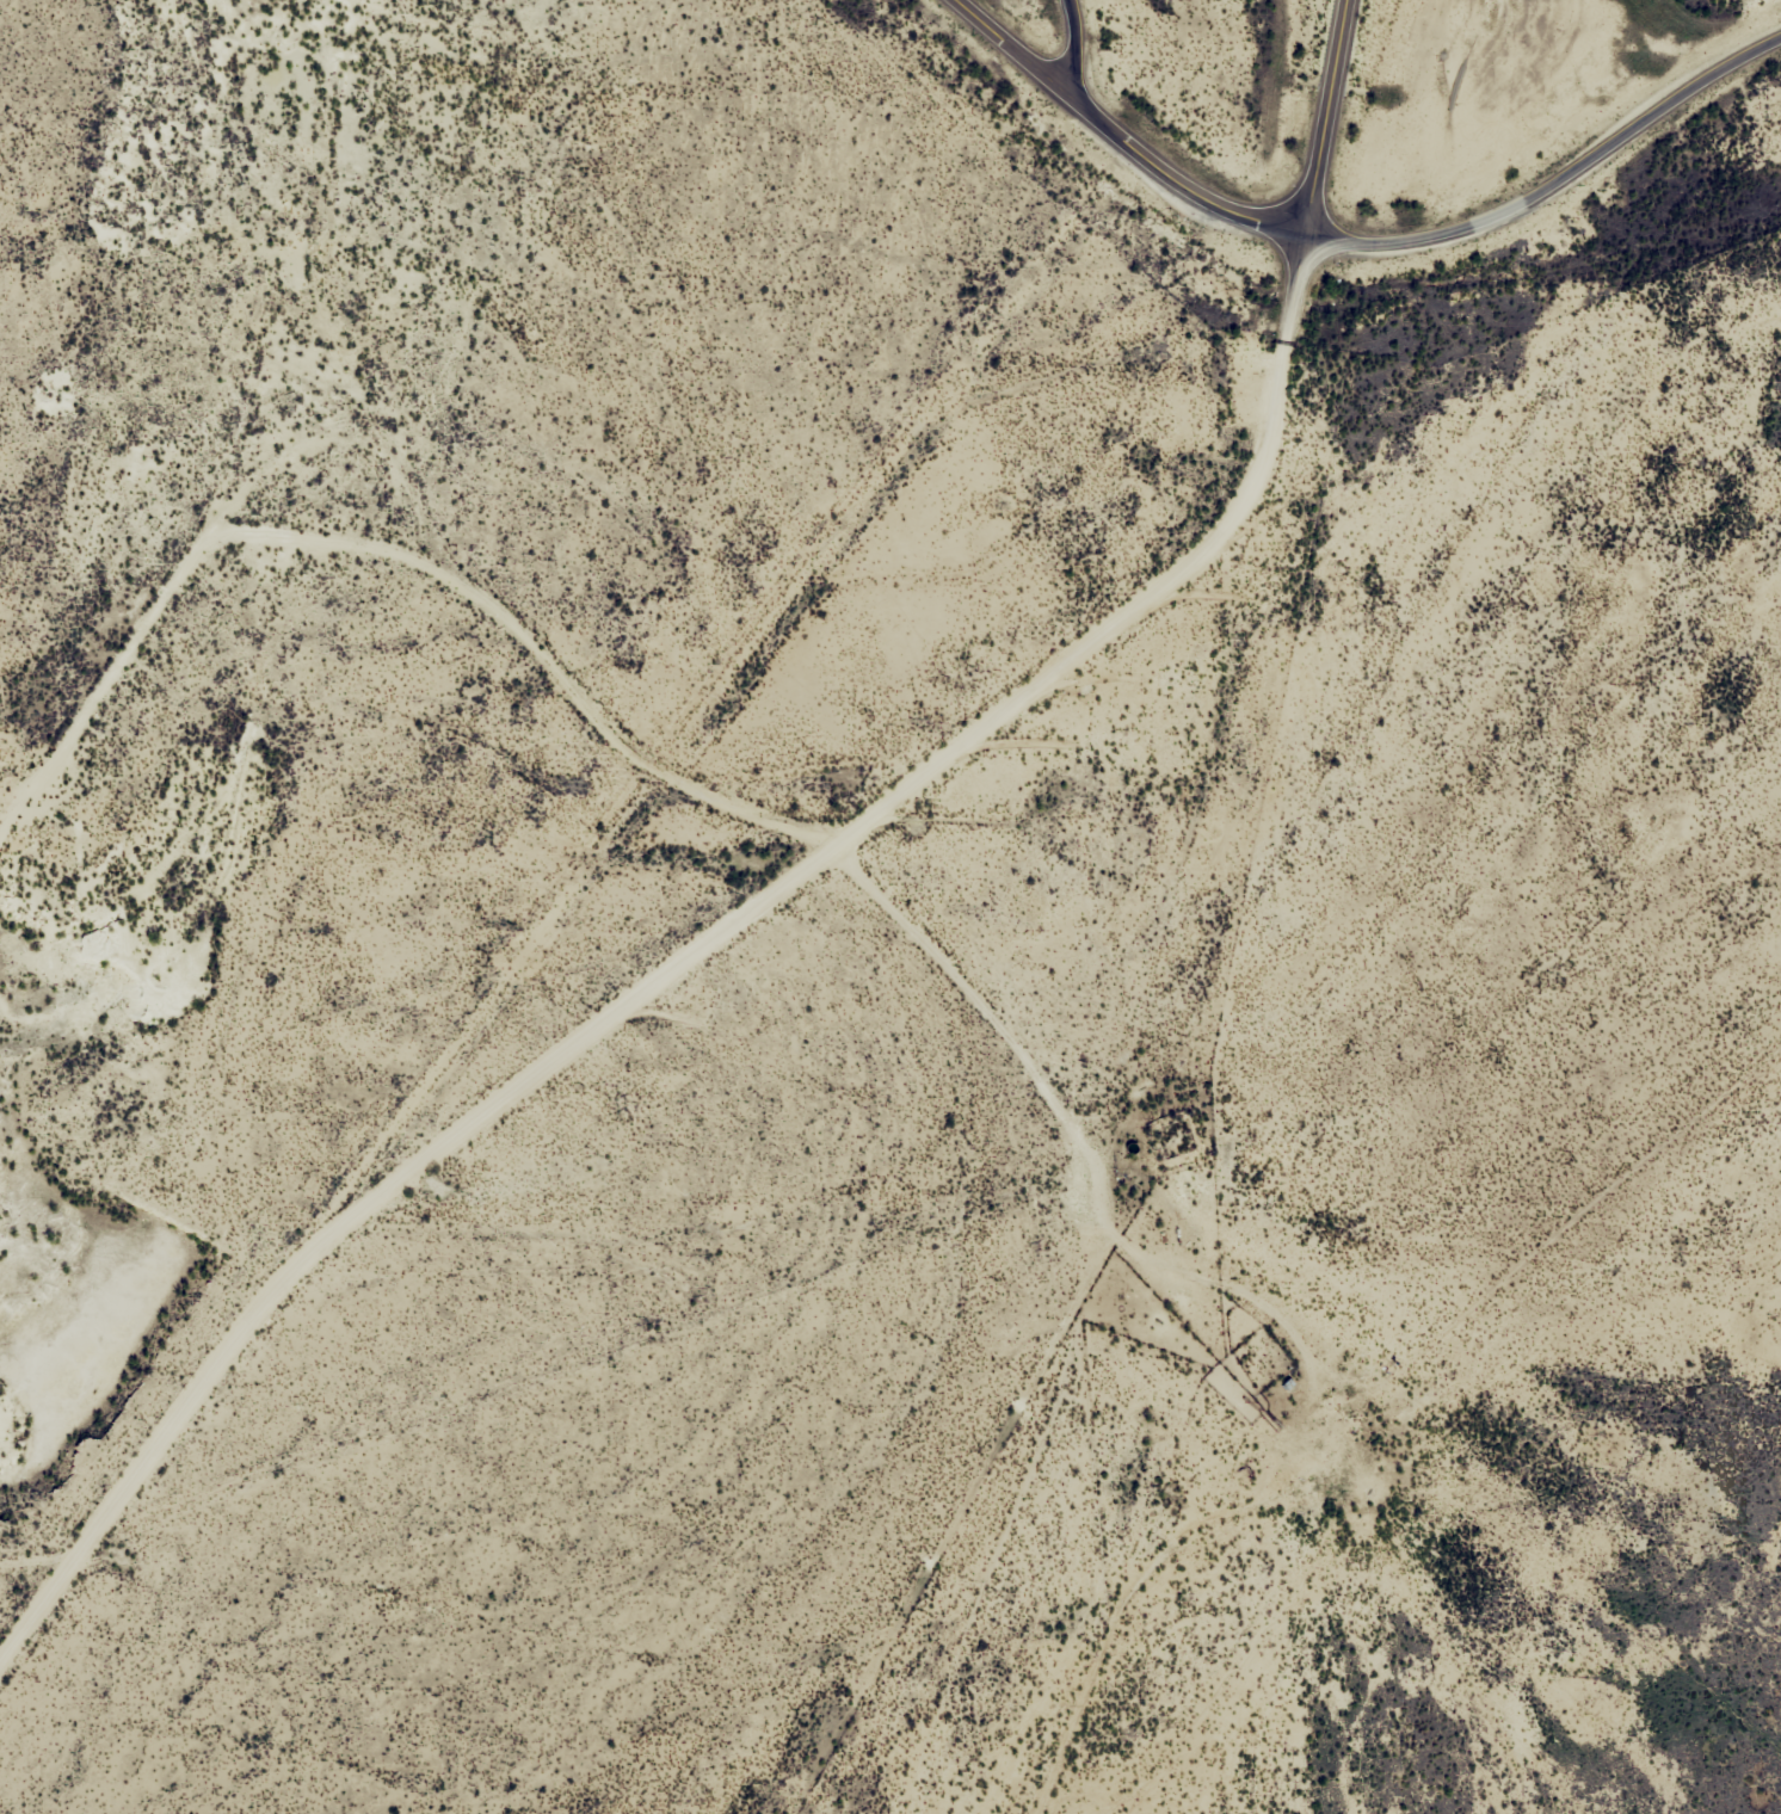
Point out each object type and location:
road: (1071, 44)
road: (1006, 45)
road: (1323, 119)
road: (1176, 173)
road: (1555, 183)
road: (676, 971)

